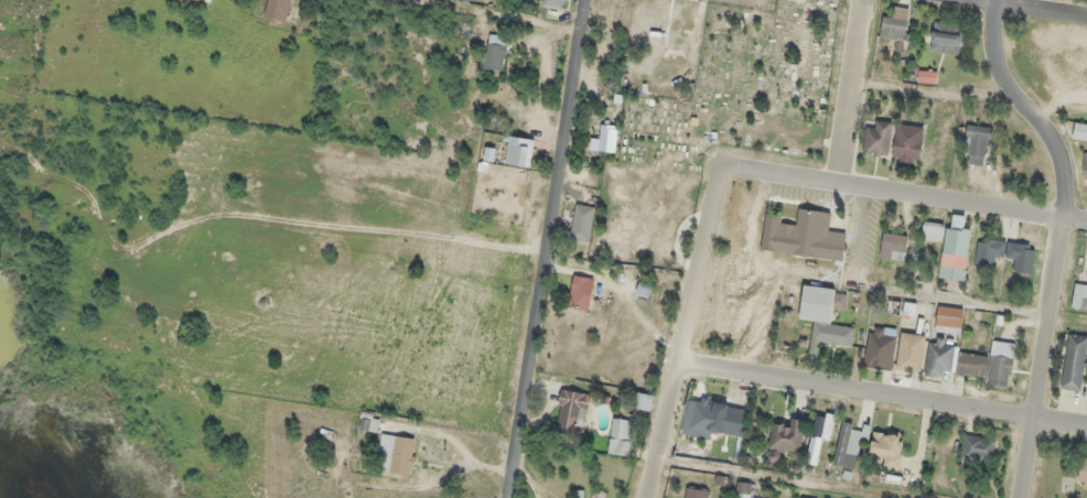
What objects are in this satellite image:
building: (552, 3)
building: (278, 9)
road: (1023, 10)
building: (895, 25)
building: (947, 37)
building: (494, 51)
building: (927, 76)
park: (743, 90)
road: (854, 90)
building: (1079, 131)
building: (876, 139)
building: (604, 140)
building: (907, 142)
building: (977, 144)
building: (517, 151)
building: (1085, 167)
road: (907, 192)
building: (581, 223)
building: (655, 236)
building: (803, 236)
road: (1061, 237)
building: (949, 246)
building: (892, 247)
road: (547, 249)
building: (1004, 253)
building: (580, 292)
building: (1079, 296)
building: (825, 316)
road: (674, 326)
building: (880, 348)
building: (911, 353)
building: (939, 358)
building: (1074, 362)
building: (986, 368)
road: (875, 396)
building: (642, 401)
building: (571, 413)
building: (718, 418)
building: (819, 433)
building: (620, 436)
building: (787, 436)
building: (850, 443)
building: (887, 448)
building: (977, 448)
building: (397, 454)
building: (1081, 474)
building: (693, 477)
building: (745, 490)
building: (697, 494)

